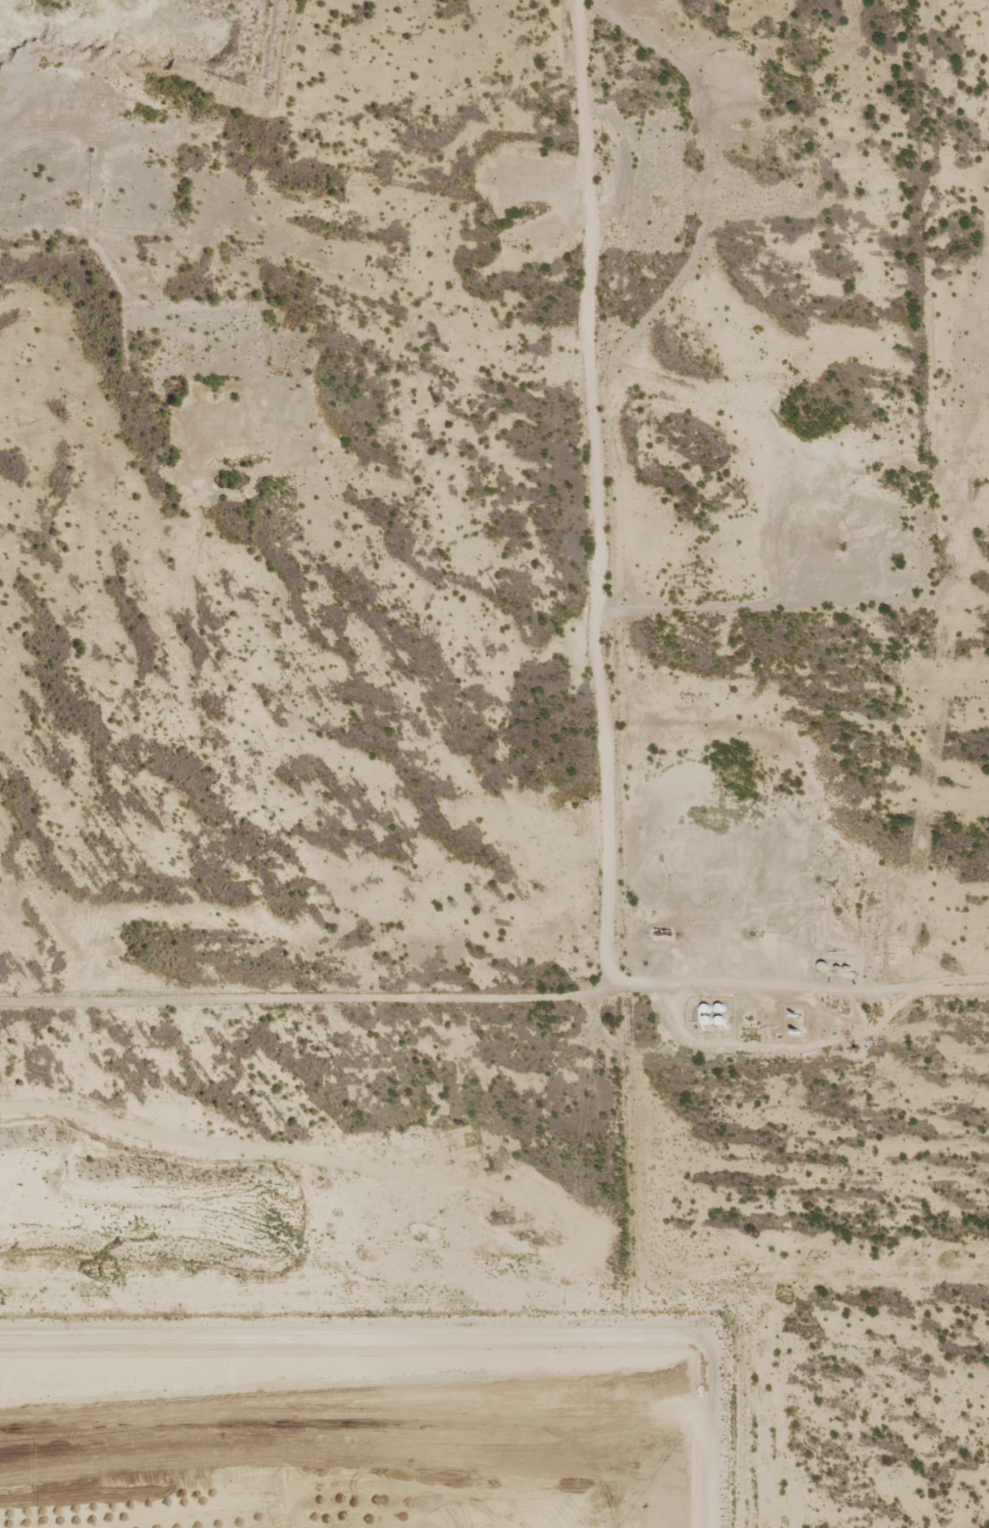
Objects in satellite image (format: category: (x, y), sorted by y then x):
road: (584, 554)

